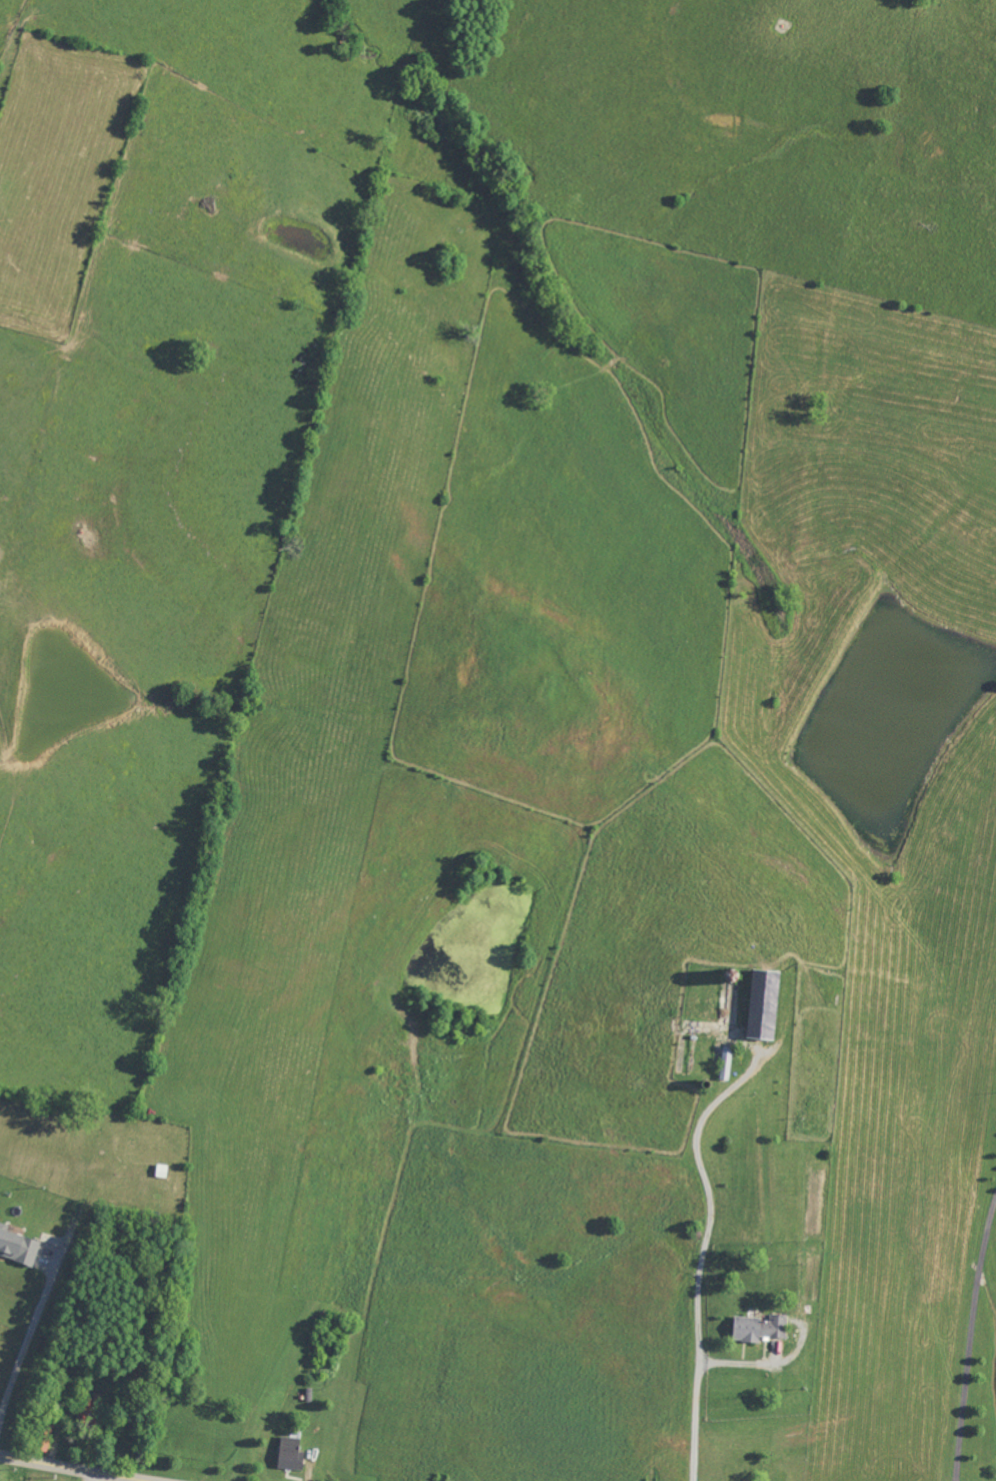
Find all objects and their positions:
building: (765, 1003)
building: (727, 1062)
building: (18, 1246)
road: (703, 1255)
building: (760, 1328)
road: (970, 1338)
road: (29, 1340)
building: (91, 1411)
building: (291, 1454)
road: (84, 1468)

